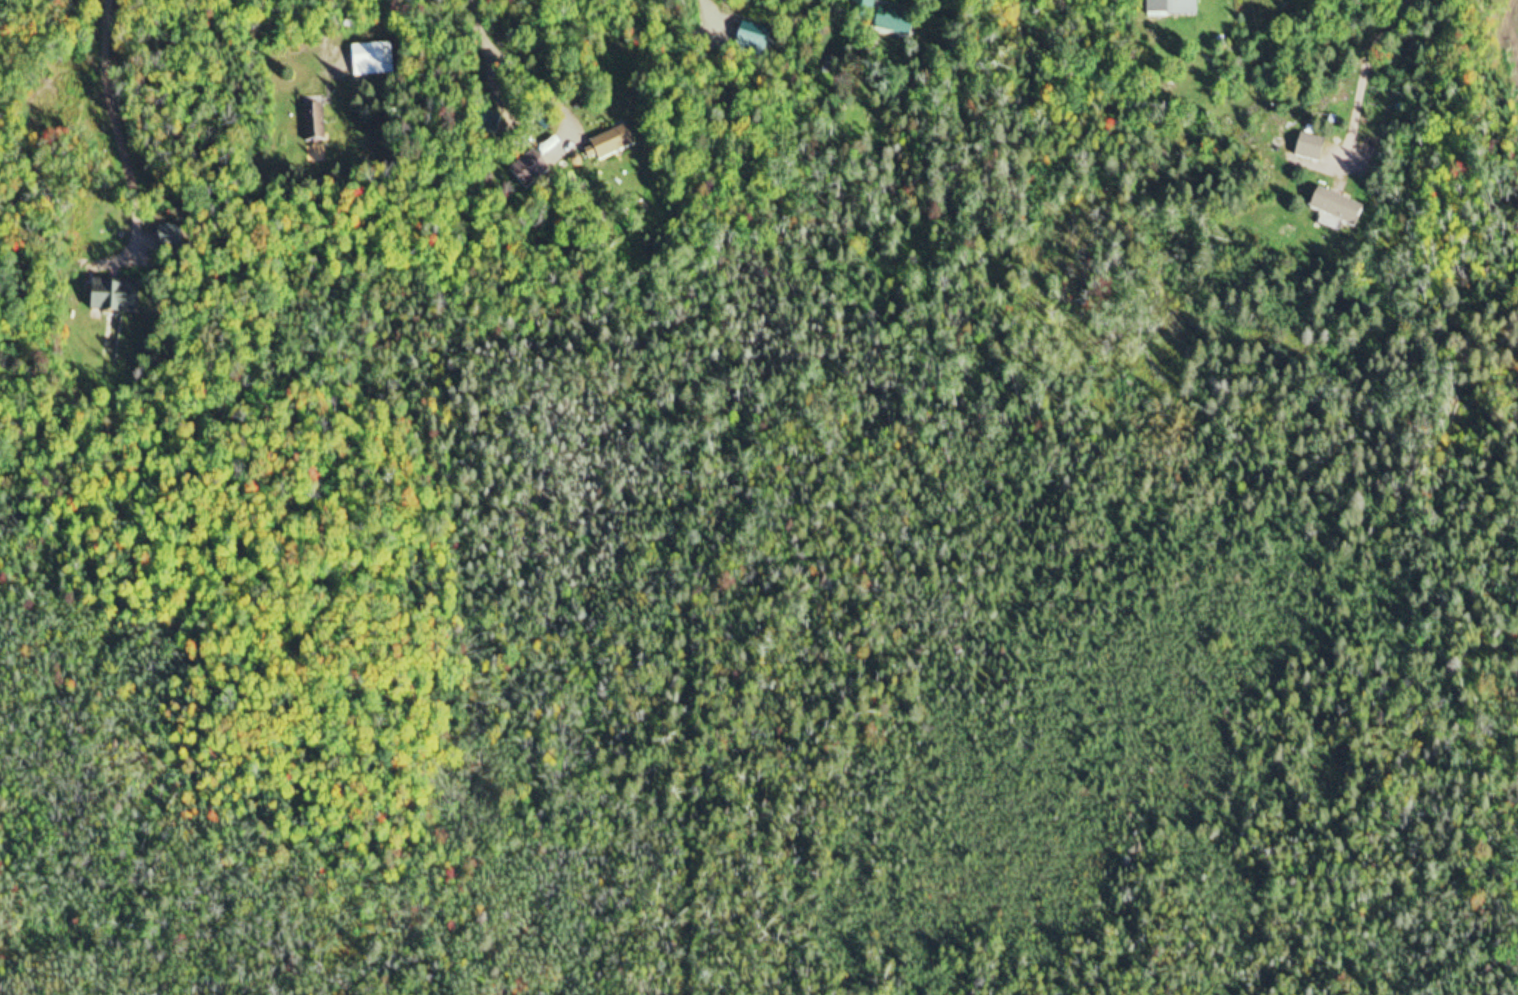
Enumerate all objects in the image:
building: (1162, 9)
building: (854, 13)
building: (887, 23)
building: (365, 62)
building: (308, 126)
building: (599, 147)
building: (1302, 149)
building: (517, 173)
building: (1327, 210)

